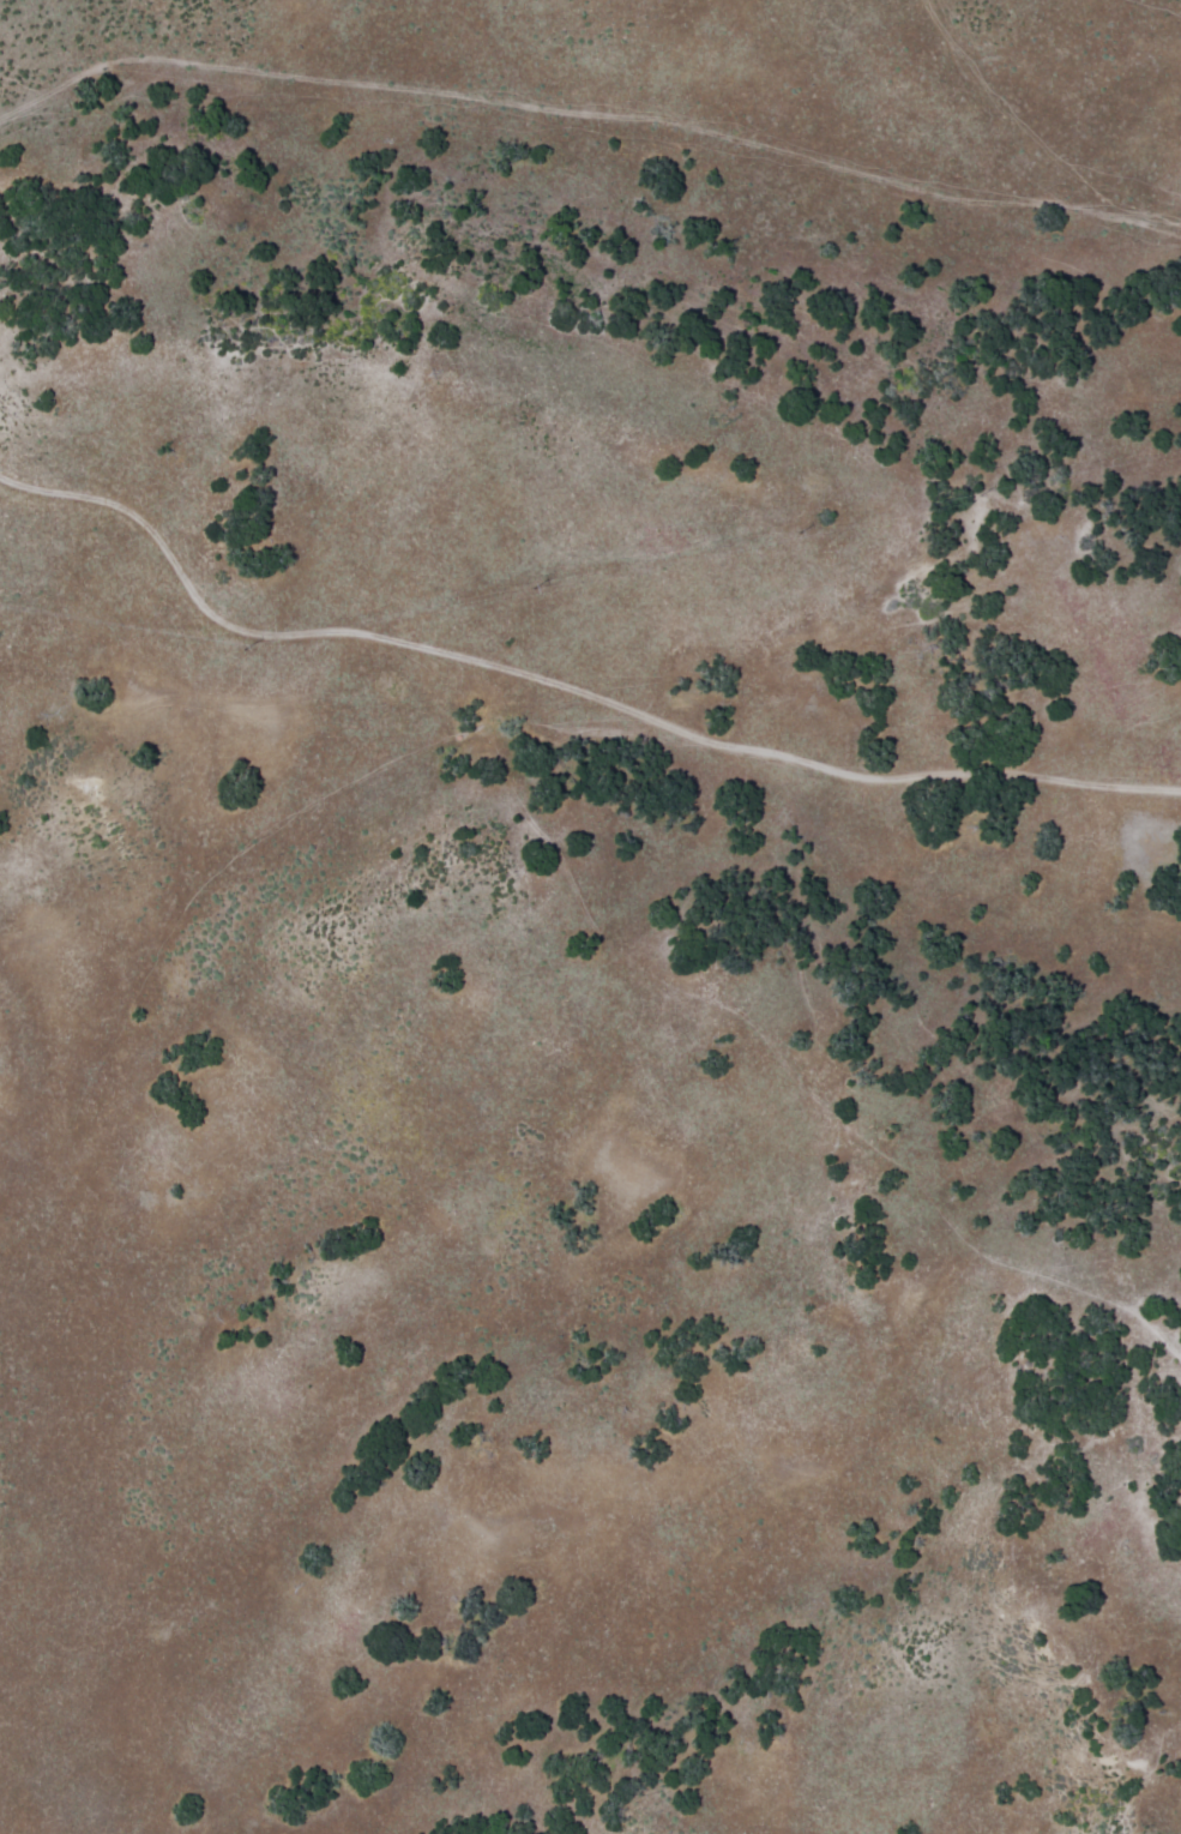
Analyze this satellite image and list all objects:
road: (592, 107)

